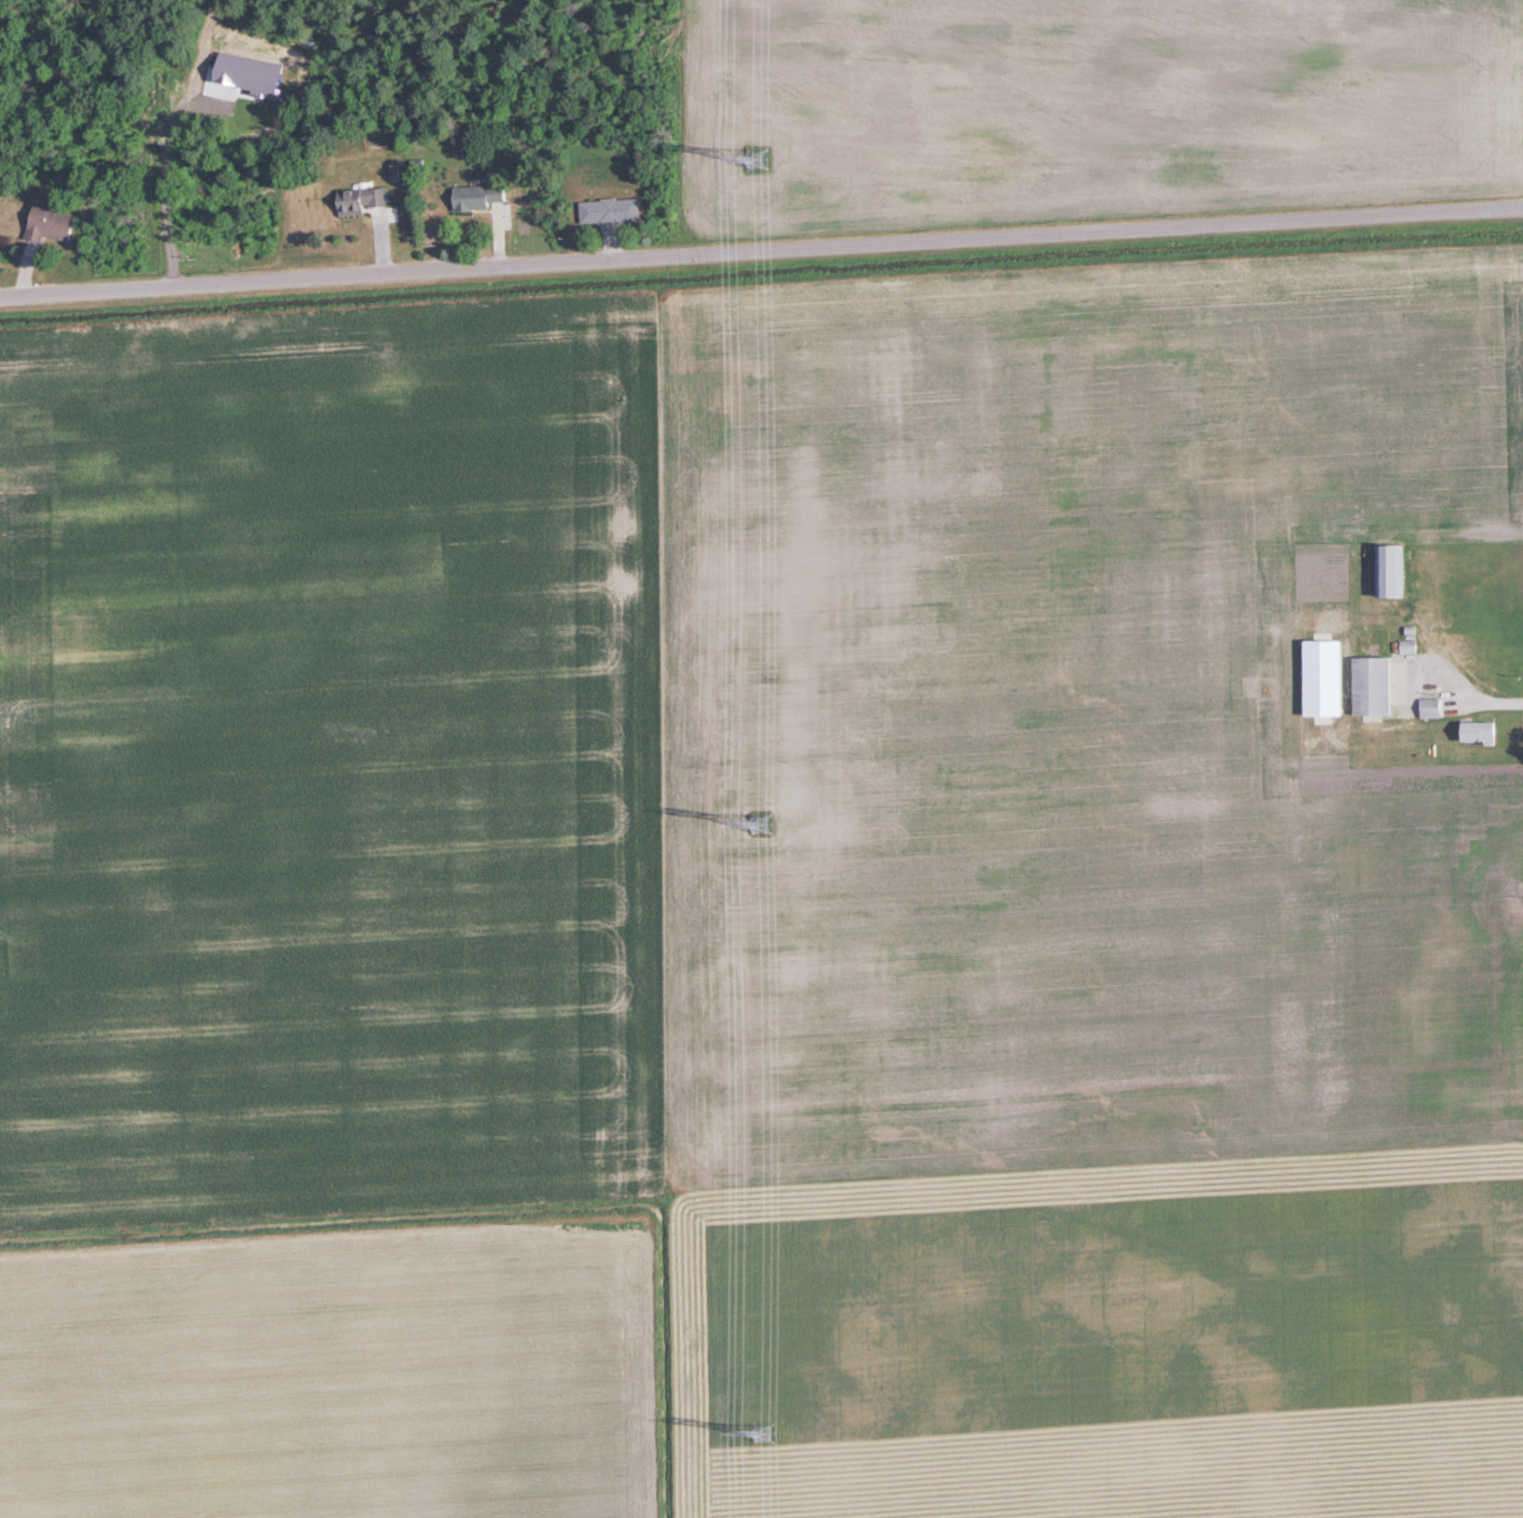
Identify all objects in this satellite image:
power tower: (758, 157)
building: (482, 196)
building: (364, 199)
building: (614, 210)
building: (55, 222)
road: (761, 254)
building: (1382, 570)
building: (1404, 647)
road: (1459, 681)
building: (1365, 686)
building: (1428, 707)
building: (1472, 732)
power tower: (762, 823)
power tower: (769, 1433)

